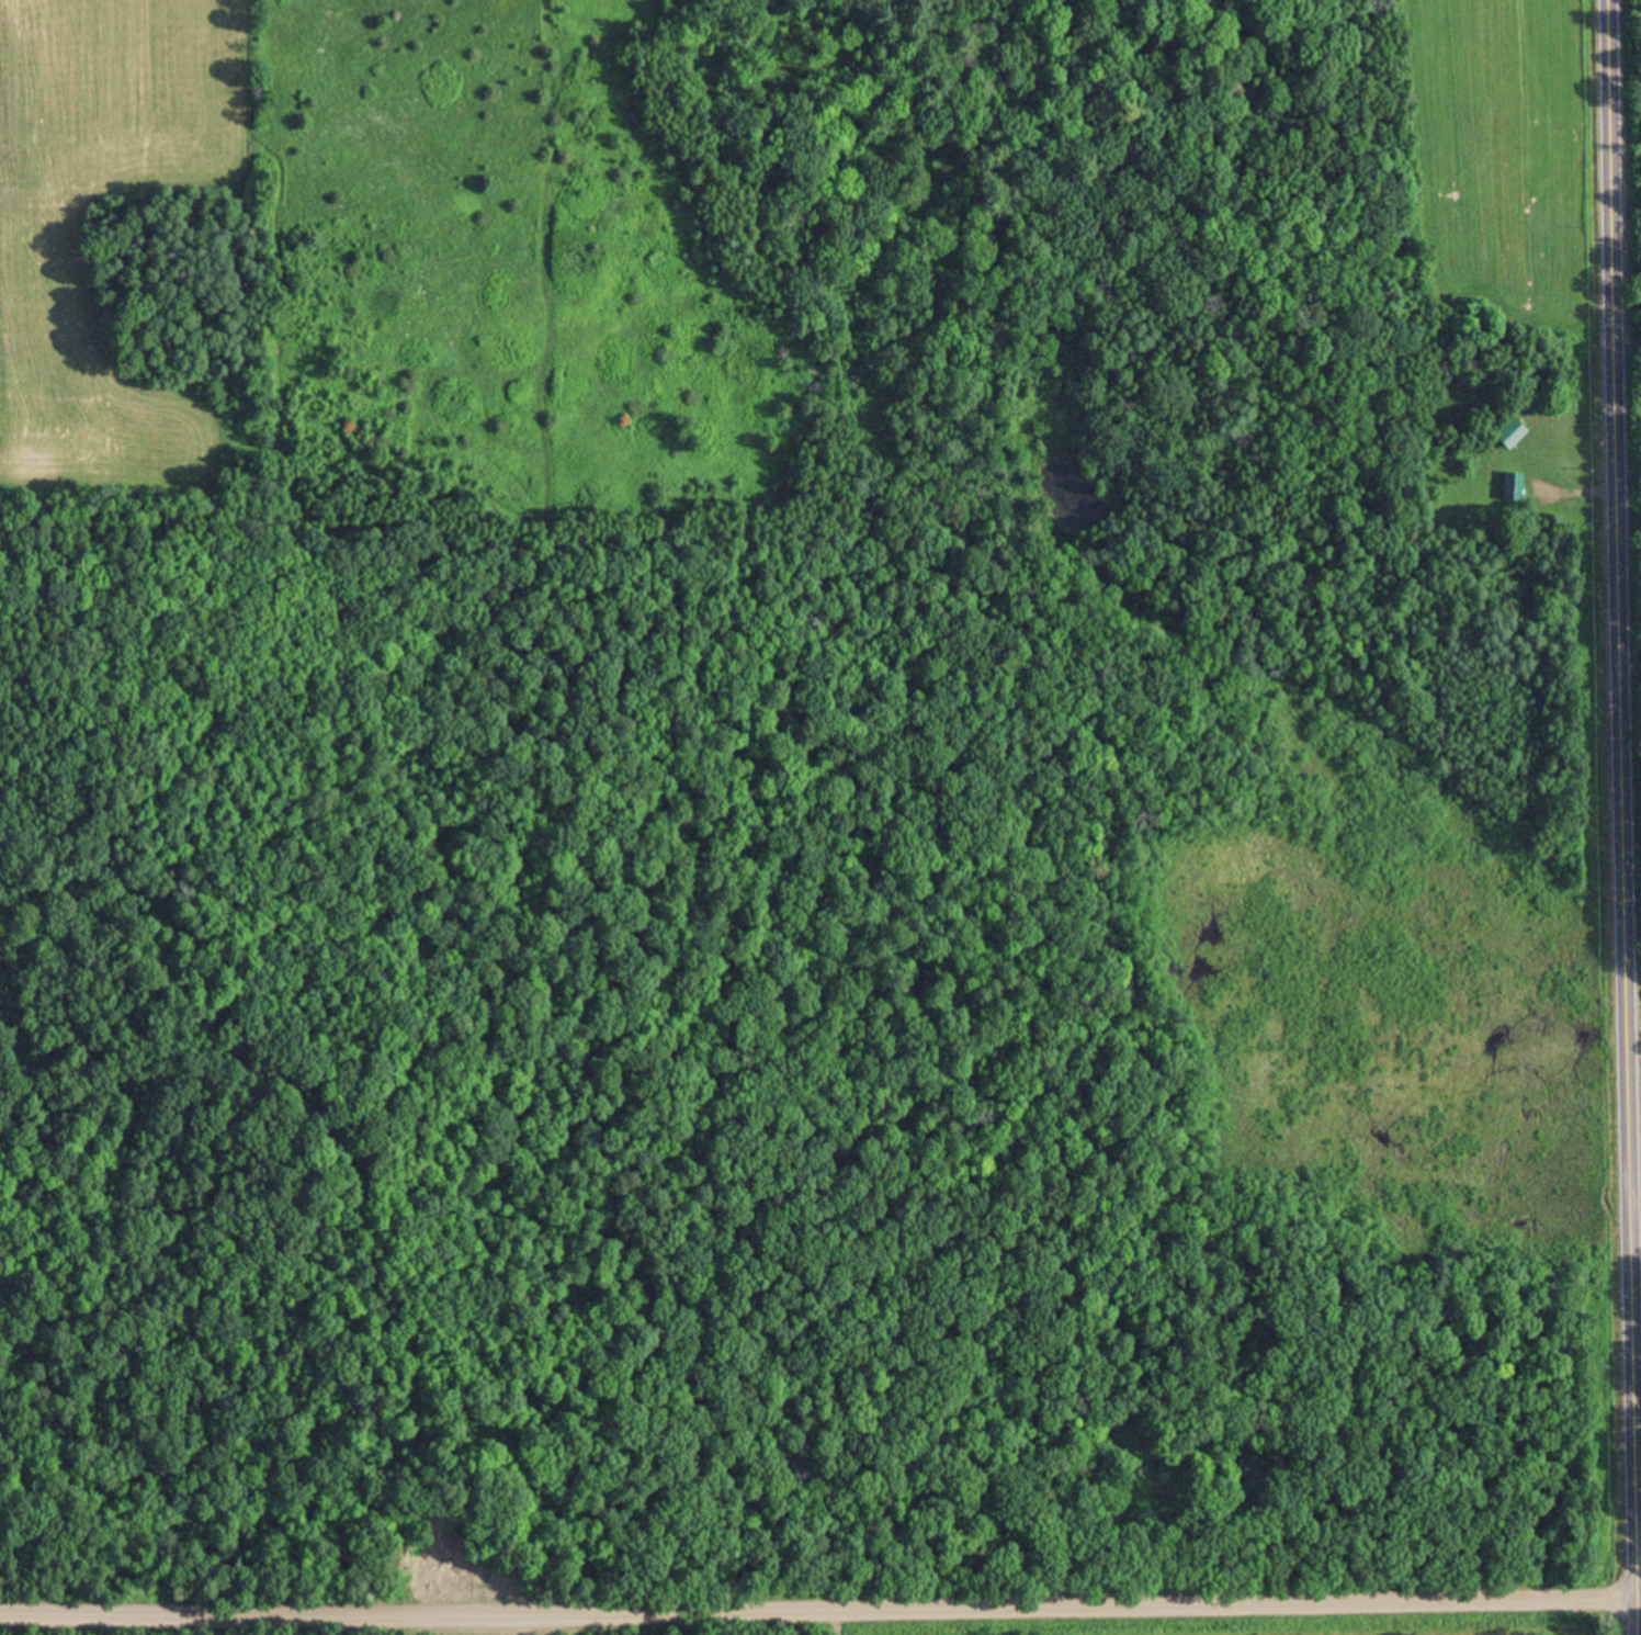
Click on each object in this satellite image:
building: (1509, 436)
building: (1512, 488)
road: (1622, 816)
building: (1153, 1487)
road: (820, 1599)

